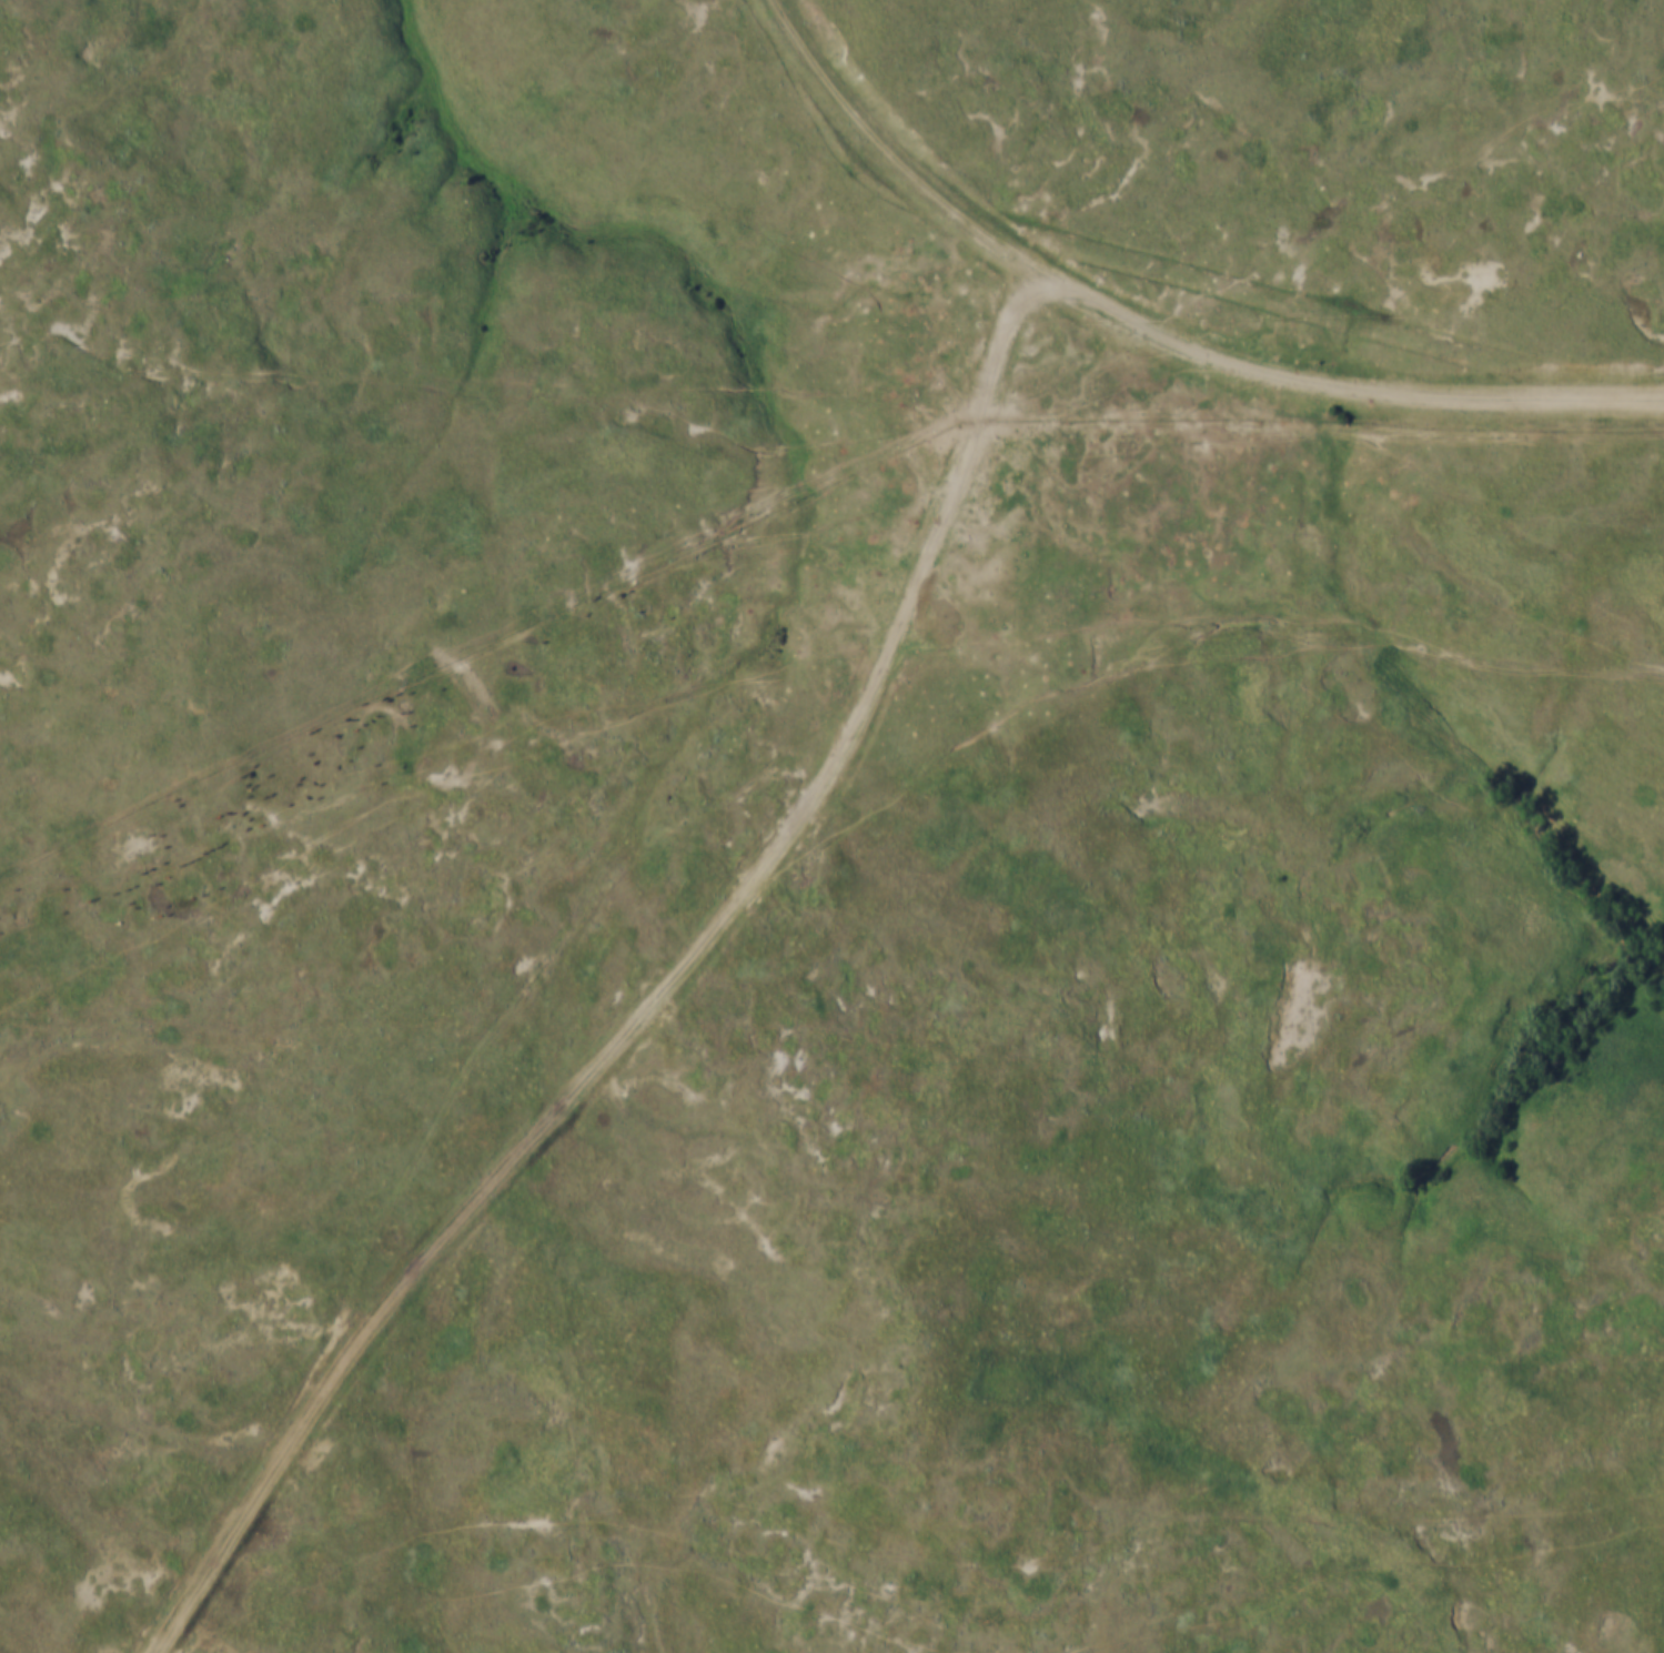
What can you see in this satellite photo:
road: (1157, 335)
road: (487, 644)
road: (659, 996)

